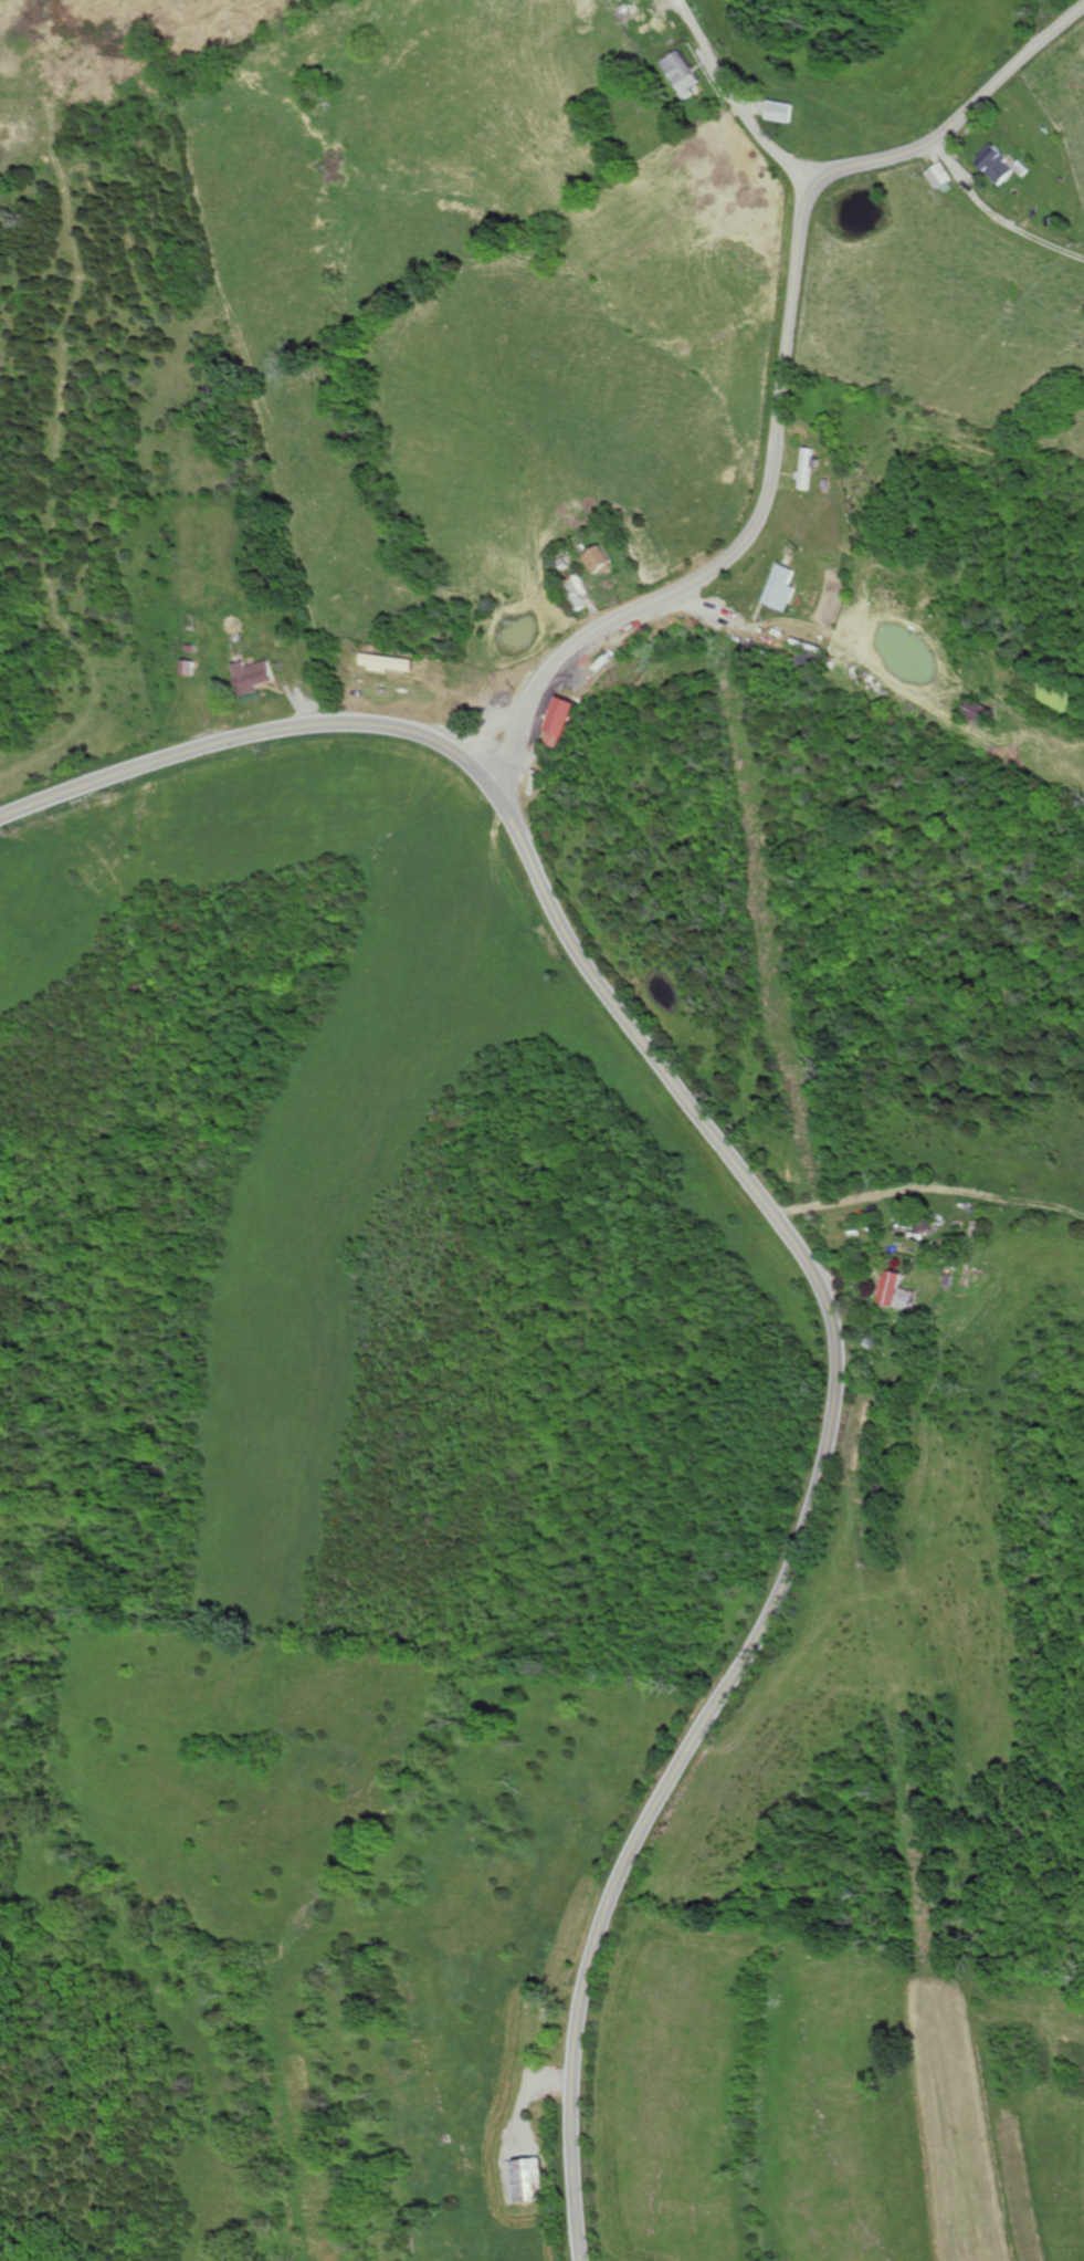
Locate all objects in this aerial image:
building: (680, 73)
road: (746, 107)
building: (781, 111)
building: (998, 164)
road: (823, 168)
building: (938, 175)
road: (785, 389)
building: (809, 469)
building: (599, 559)
building: (781, 588)
building: (253, 676)
building: (561, 721)
road: (493, 766)
road: (514, 798)
road: (929, 1201)
road: (797, 1246)
building: (891, 1289)
building: (906, 1301)
building: (523, 2178)

